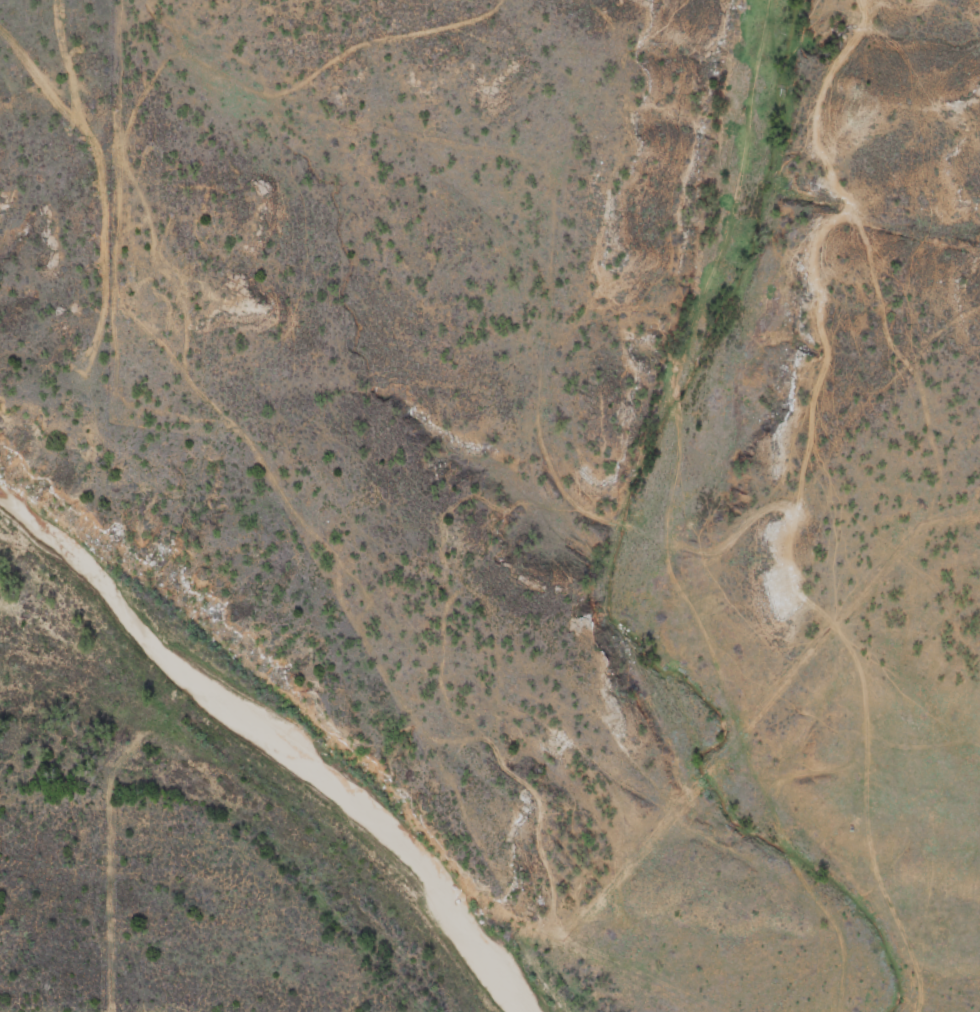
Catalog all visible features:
river: (361, 805)
road: (97, 832)

